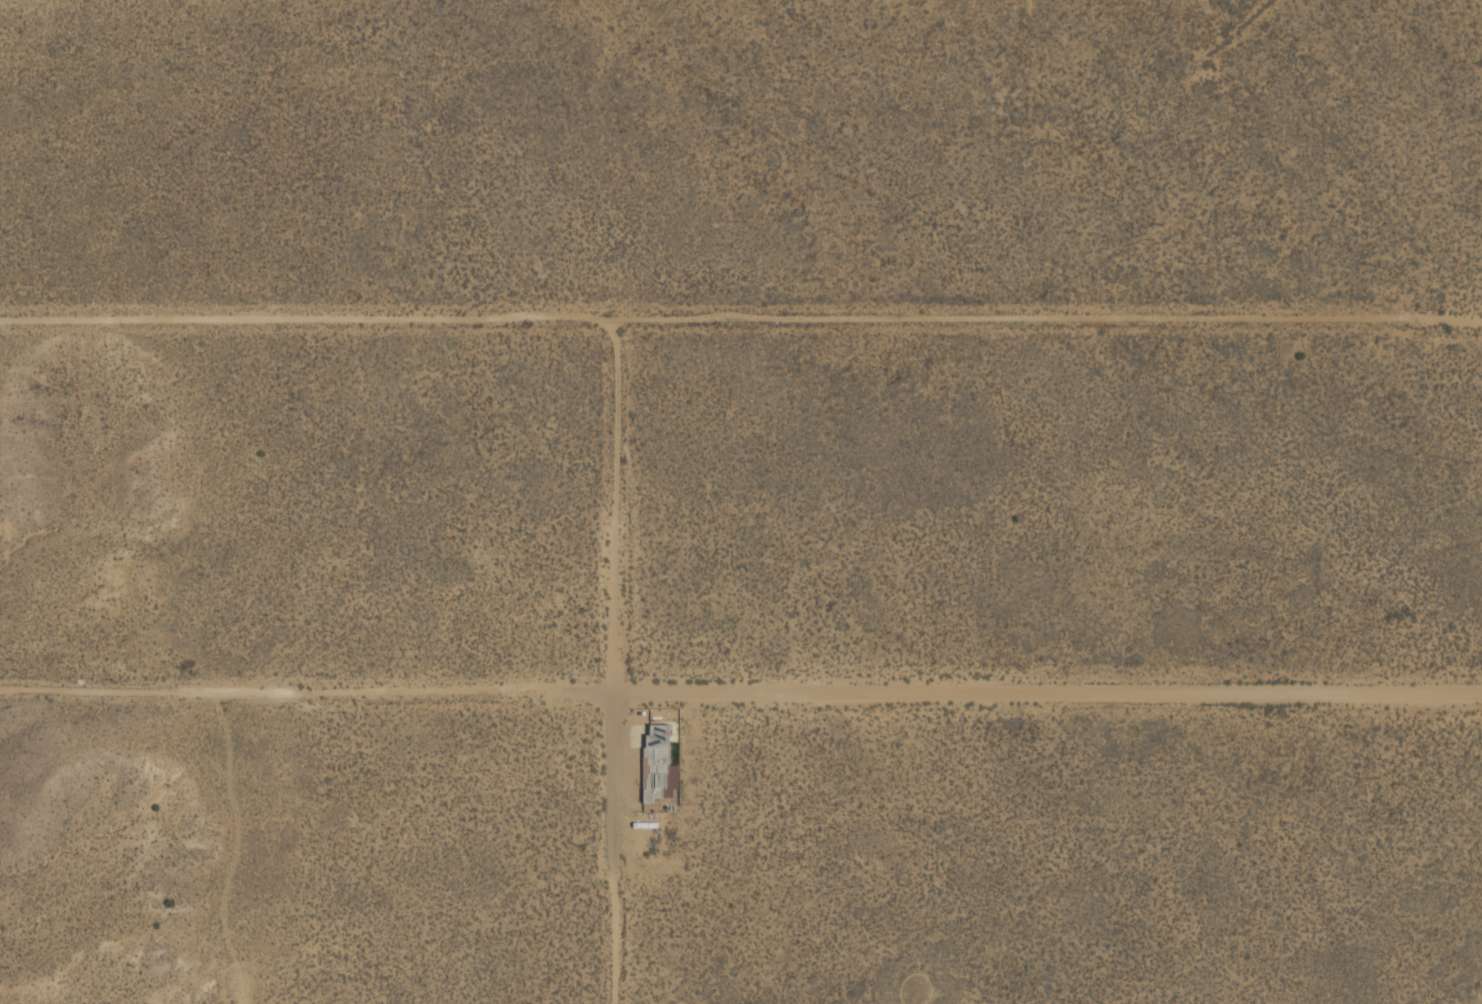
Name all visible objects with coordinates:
road: (340, 318)
road: (620, 359)
road: (1047, 692)
road: (612, 851)

